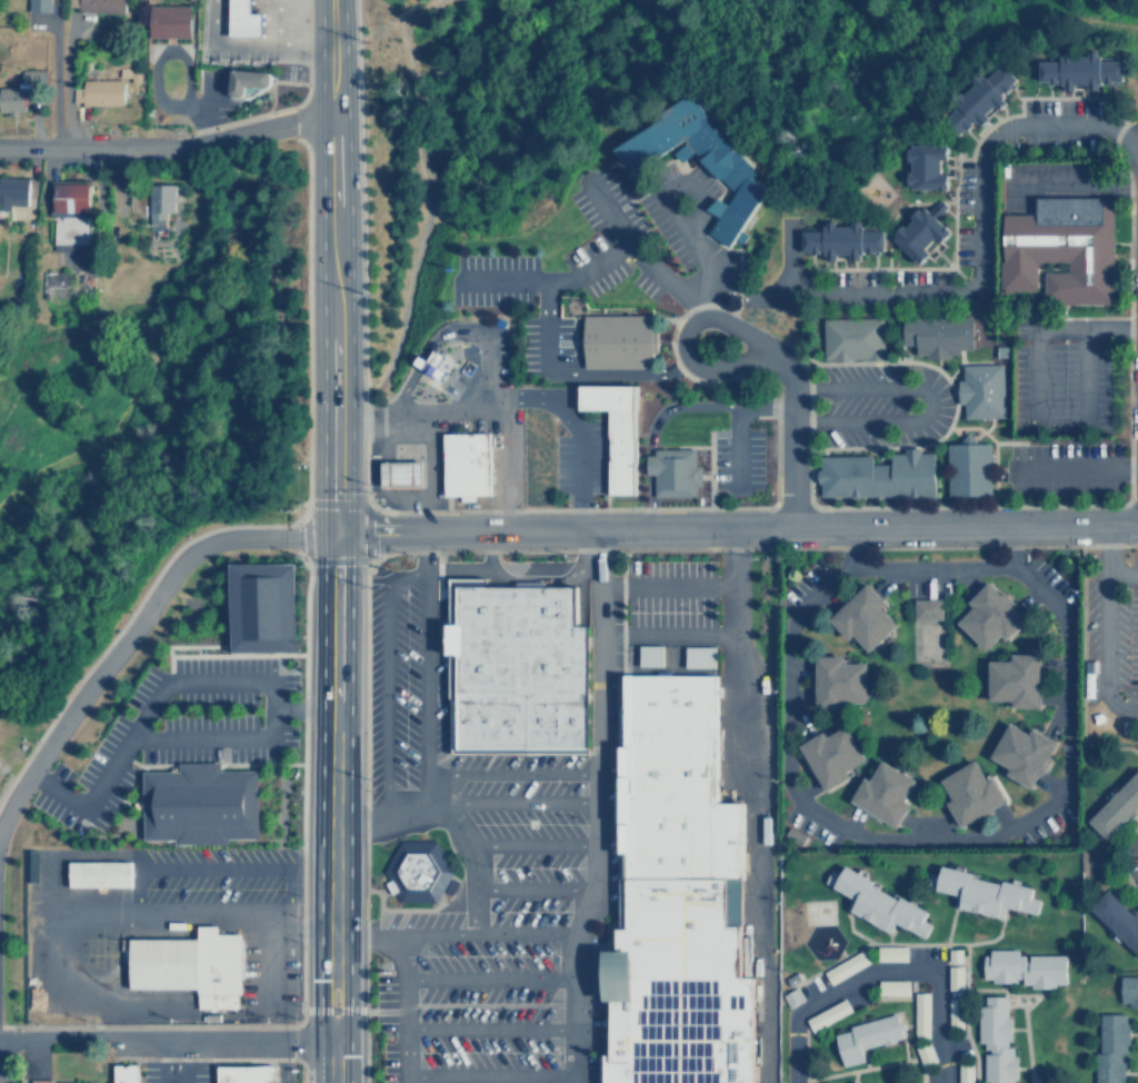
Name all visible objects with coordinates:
building: (40, 6)
building: (99, 6)
road: (402, 16)
building: (240, 18)
building: (170, 21)
park: (483, 50)
building: (1076, 69)
building: (249, 80)
road: (571, 82)
building: (104, 88)
building: (22, 91)
building: (977, 99)
road: (1021, 102)
road: (1107, 113)
road: (242, 119)
road: (168, 149)
building: (696, 157)
road: (232, 163)
building: (922, 166)
road: (957, 170)
road: (636, 180)
road: (667, 180)
parking lot: (697, 181)
building: (13, 190)
road: (425, 196)
building: (71, 197)
road: (360, 197)
building: (160, 201)
parking lot: (603, 205)
road: (605, 208)
road: (692, 215)
road: (226, 229)
parking lot: (663, 231)
building: (70, 232)
building: (919, 234)
building: (838, 241)
road: (954, 248)
building: (1058, 248)
road: (979, 254)
road: (708, 256)
road: (592, 264)
parking lot: (591, 265)
road: (302, 268)
parking lot: (726, 271)
parking lot: (489, 279)
building: (57, 285)
parking lot: (642, 285)
road: (1129, 304)
road: (696, 305)
road: (1072, 316)
road: (1114, 327)
road: (438, 334)
building: (937, 337)
building: (849, 338)
building: (613, 341)
road: (753, 341)
parking lot: (541, 346)
road: (900, 360)
building: (421, 361)
road: (965, 361)
building: (432, 362)
road: (571, 371)
parking lot: (1060, 388)
building: (981, 393)
road: (508, 395)
road: (480, 396)
parking lot: (879, 404)
road: (926, 404)
road: (702, 406)
road: (1031, 418)
road: (809, 420)
building: (611, 429)
road: (578, 440)
road: (736, 444)
road: (908, 446)
road: (995, 457)
parking lot: (737, 458)
parking lot: (576, 461)
road: (362, 463)
building: (467, 465)
building: (966, 466)
road: (1076, 467)
parking lot: (1061, 468)
building: (670, 471)
building: (910, 474)
building: (403, 475)
gas station: (403, 475)
building: (850, 478)
road: (317, 501)
road: (646, 501)
road: (347, 503)
road: (749, 507)
road: (735, 527)
traffic signals: (332, 534)
road: (332, 540)
road: (848, 545)
road: (1009, 545)
road: (362, 546)
road: (749, 548)
road: (425, 554)
road: (320, 560)
road: (521, 583)
road: (663, 583)
building: (258, 605)
building: (926, 607)
building: (860, 616)
building: (987, 616)
road: (126, 622)
road: (136, 626)
parking lot: (1112, 630)
road: (663, 637)
park: (930, 642)
road: (186, 646)
road: (591, 652)
building: (651, 654)
building: (709, 654)
road: (238, 655)
building: (513, 670)
road: (423, 675)
road: (1082, 676)
road: (385, 678)
road: (210, 682)
building: (1012, 682)
building: (835, 683)
road: (302, 706)
building: (1020, 753)
building: (829, 757)
road: (508, 774)
building: (968, 793)
building: (882, 794)
road: (302, 798)
building: (203, 799)
road: (519, 801)
road: (755, 804)
building: (1116, 806)
road: (416, 811)
road: (367, 818)
road: (359, 822)
road: (622, 824)
road: (998, 835)
road: (471, 845)
road: (531, 845)
road: (591, 855)
road: (1120, 856)
building: (412, 871)
building: (101, 873)
road: (531, 890)
building: (982, 893)
building: (678, 902)
building: (875, 902)
road: (1134, 908)
park: (819, 912)
building: (1116, 918)
road: (268, 927)
road: (948, 927)
road: (486, 932)
road: (851, 932)
road: (367, 934)
road: (886, 938)
road: (977, 941)
road: (936, 944)
building: (190, 967)
building: (1020, 967)
road: (881, 972)
parking lot: (268, 973)
building: (956, 976)
road: (487, 977)
road: (982, 988)
building: (1128, 990)
road: (1014, 994)
road: (1028, 994)
building: (790, 996)
road: (402, 1007)
road: (572, 1007)
road: (152, 1025)
road: (487, 1025)
road: (1018, 1029)
road: (1024, 1033)
road: (901, 1036)
road: (1134, 1036)
building: (862, 1040)
road: (167, 1041)
building: (996, 1042)
building: (1110, 1047)
road: (805, 1053)
road: (208, 1059)
road: (172, 1062)
road: (262, 1062)
road: (303, 1062)
road: (871, 1066)
road: (1022, 1067)
building: (264, 1072)
building: (127, 1073)
building: (237, 1073)
road: (1131, 1073)
road: (490, 1076)
road: (852, 1076)
road: (1028, 1077)
building: (54, 1081)
building: (850, 1082)

